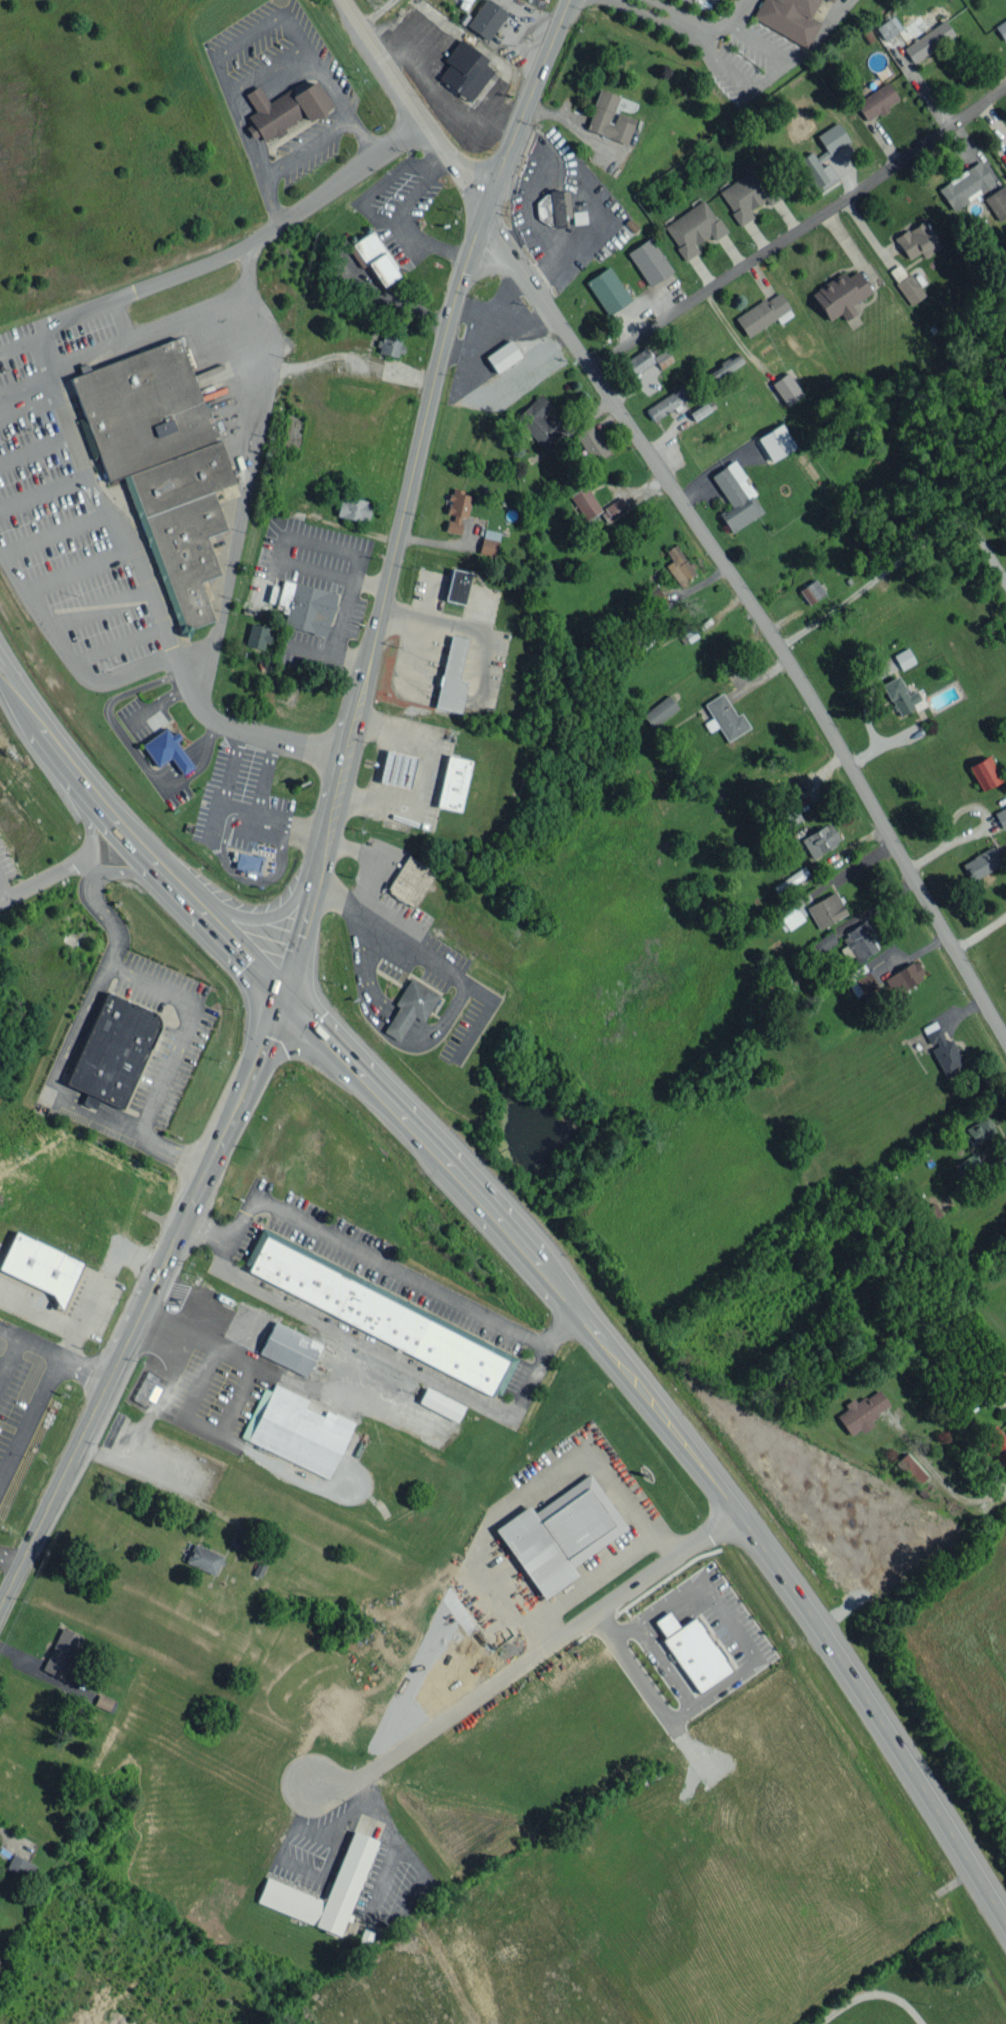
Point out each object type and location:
building: (469, 0)
building: (788, 18)
building: (486, 19)
road: (658, 19)
building: (887, 27)
building: (1001, 29)
road: (818, 35)
road: (709, 39)
building: (927, 41)
building: (464, 70)
road: (773, 77)
building: (875, 101)
building: (284, 108)
building: (608, 118)
building: (823, 157)
building: (965, 185)
building: (747, 193)
building: (997, 202)
building: (553, 208)
traffic signals: (483, 212)
building: (579, 217)
building: (693, 228)
road: (799, 232)
building: (917, 240)
building: (375, 259)
building: (649, 261)
building: (607, 290)
building: (839, 294)
road: (13, 304)
building: (763, 314)
road: (20, 341)
building: (390, 346)
building: (502, 355)
building: (662, 358)
building: (639, 361)
road: (290, 366)
building: (724, 366)
road: (438, 372)
building: (785, 388)
road: (26, 394)
road: (55, 395)
building: (666, 403)
building: (698, 410)
building: (539, 419)
building: (775, 442)
building: (591, 443)
building: (160, 463)
building: (735, 496)
building: (584, 502)
building: (353, 508)
building: (456, 509)
building: (614, 509)
road: (689, 510)
road: (238, 529)
building: (488, 542)
road: (900, 561)
building: (678, 565)
building: (456, 586)
building: (811, 591)
building: (654, 596)
building: (306, 607)
building: (257, 635)
road: (66, 654)
building: (904, 658)
building: (452, 677)
building: (899, 696)
building: (660, 711)
building: (724, 717)
building: (166, 750)
building: (984, 772)
road: (421, 777)
building: (452, 783)
road: (338, 795)
road: (238, 807)
building: (1001, 816)
building: (785, 817)
road: (94, 836)
building: (819, 840)
road: (382, 857)
building: (980, 863)
road: (129, 873)
building: (790, 879)
building: (410, 881)
road: (46, 892)
road: (4, 899)
building: (826, 910)
road: (110, 916)
building: (788, 917)
road: (979, 929)
building: (859, 941)
building: (823, 943)
road: (431, 961)
road: (362, 967)
building: (904, 977)
building: (860, 980)
traffic signals: (281, 993)
building: (410, 1007)
road: (438, 1021)
road: (392, 1022)
road: (193, 1030)
building: (942, 1049)
building: (113, 1050)
road: (63, 1077)
building: (976, 1132)
road: (179, 1150)
building: (969, 1163)
building: (928, 1214)
road: (180, 1229)
road: (374, 1257)
road: (536, 1261)
building: (40, 1266)
building: (379, 1312)
building: (289, 1348)
road: (226, 1351)
road: (392, 1357)
building: (147, 1388)
building: (441, 1404)
building: (862, 1411)
road: (196, 1427)
building: (296, 1430)
building: (995, 1446)
building: (911, 1468)
road: (935, 1476)
road: (526, 1485)
building: (560, 1533)
building: (203, 1558)
road: (731, 1622)
building: (692, 1651)
building: (61, 1652)
road: (523, 1664)
road: (665, 1665)
road: (631, 1667)
road: (290, 1834)
building: (20, 1866)
building: (278, 1888)
road: (404, 1907)

